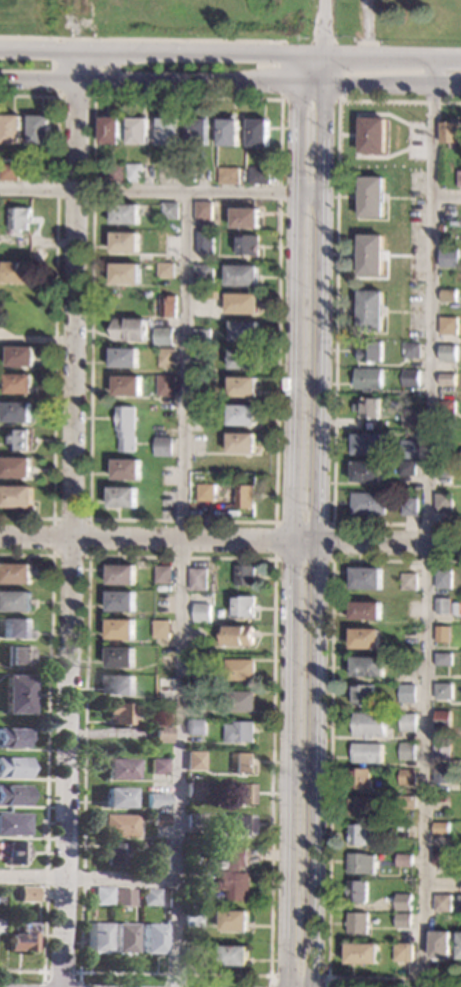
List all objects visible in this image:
road: (321, 26)
road: (139, 38)
road: (147, 51)
road: (309, 53)
road: (392, 55)
road: (323, 68)
road: (161, 81)
road: (56, 84)
road: (391, 84)
road: (280, 99)
road: (279, 100)
building: (10, 130)
building: (38, 130)
building: (110, 131)
building: (137, 131)
building: (168, 132)
building: (197, 132)
building: (448, 132)
building: (228, 133)
building: (258, 133)
building: (371, 135)
building: (8, 172)
building: (133, 172)
building: (114, 174)
building: (228, 175)
building: (258, 175)
building: (458, 179)
road: (160, 191)
road: (445, 196)
building: (371, 197)
building: (168, 211)
building: (202, 211)
building: (124, 214)
building: (243, 217)
building: (18, 218)
building: (124, 242)
building: (203, 243)
building: (246, 245)
building: (370, 255)
building: (446, 257)
building: (164, 270)
building: (17, 271)
building: (202, 273)
building: (125, 274)
building: (241, 275)
building: (213, 295)
building: (445, 295)
road: (53, 303)
building: (241, 303)
building: (167, 307)
building: (369, 310)
road: (335, 315)
building: (446, 325)
building: (128, 329)
building: (242, 331)
building: (162, 336)
building: (200, 337)
building: (408, 349)
building: (368, 351)
building: (445, 353)
building: (19, 356)
building: (165, 357)
building: (123, 358)
building: (200, 359)
building: (242, 359)
building: (408, 378)
building: (367, 379)
building: (444, 379)
building: (16, 383)
building: (164, 385)
building: (126, 386)
building: (242, 387)
building: (444, 407)
building: (367, 408)
building: (14, 412)
building: (201, 414)
building: (241, 415)
building: (408, 418)
building: (124, 428)
building: (17, 439)
building: (241, 443)
building: (366, 444)
building: (162, 446)
building: (407, 449)
building: (460, 453)
building: (14, 467)
building: (405, 467)
building: (442, 467)
building: (125, 469)
building: (365, 471)
building: (205, 492)
building: (15, 496)
building: (245, 496)
building: (121, 497)
building: (442, 502)
building: (368, 504)
building: (409, 506)
road: (51, 517)
road: (71, 518)
road: (291, 520)
road: (427, 522)
road: (319, 534)
road: (230, 544)
road: (274, 560)
road: (332, 560)
building: (15, 573)
building: (119, 574)
building: (162, 574)
building: (244, 575)
building: (365, 578)
building: (441, 578)
building: (197, 579)
building: (407, 581)
road: (182, 589)
building: (15, 601)
building: (119, 602)
building: (242, 606)
building: (440, 606)
building: (453, 608)
building: (364, 610)
building: (196, 617)
building: (15, 628)
building: (119, 629)
building: (160, 629)
building: (196, 633)
building: (440, 634)
building: (237, 636)
building: (363, 638)
building: (18, 656)
building: (118, 657)
building: (440, 659)
building: (195, 665)
building: (366, 666)
building: (239, 670)
building: (119, 685)
building: (440, 690)
building: (404, 693)
building: (16, 694)
building: (361, 694)
building: (196, 699)
building: (238, 701)
building: (119, 713)
building: (440, 719)
building: (404, 722)
building: (367, 725)
building: (194, 727)
building: (238, 731)
building: (160, 735)
building: (13, 738)
building: (439, 750)
building: (404, 751)
building: (365, 752)
road: (47, 760)
building: (194, 761)
building: (243, 763)
building: (158, 766)
building: (13, 767)
building: (118, 769)
road: (329, 771)
building: (438, 774)
building: (404, 777)
building: (358, 778)
building: (195, 791)
building: (242, 794)
building: (13, 796)
building: (117, 798)
building: (156, 801)
building: (404, 802)
building: (438, 802)
building: (357, 805)
building: (160, 821)
building: (194, 822)
building: (14, 825)
building: (239, 825)
building: (119, 826)
building: (438, 828)
building: (357, 833)
building: (212, 848)
building: (15, 852)
building: (114, 853)
building: (438, 857)
building: (158, 860)
building: (402, 860)
building: (359, 863)
road: (89, 876)
building: (233, 876)
road: (442, 881)
building: (355, 891)
building: (27, 894)
building: (101, 896)
building: (150, 897)
building: (123, 898)
building: (402, 902)
building: (440, 903)
building: (458, 903)
building: (192, 917)
building: (232, 920)
building: (401, 920)
building: (356, 923)
building: (98, 938)
building: (124, 938)
building: (23, 939)
building: (152, 939)
building: (439, 944)
building: (458, 945)
building: (401, 952)
building: (360, 953)
building: (194, 956)
building: (232, 956)
road: (63, 971)
road: (297, 977)

